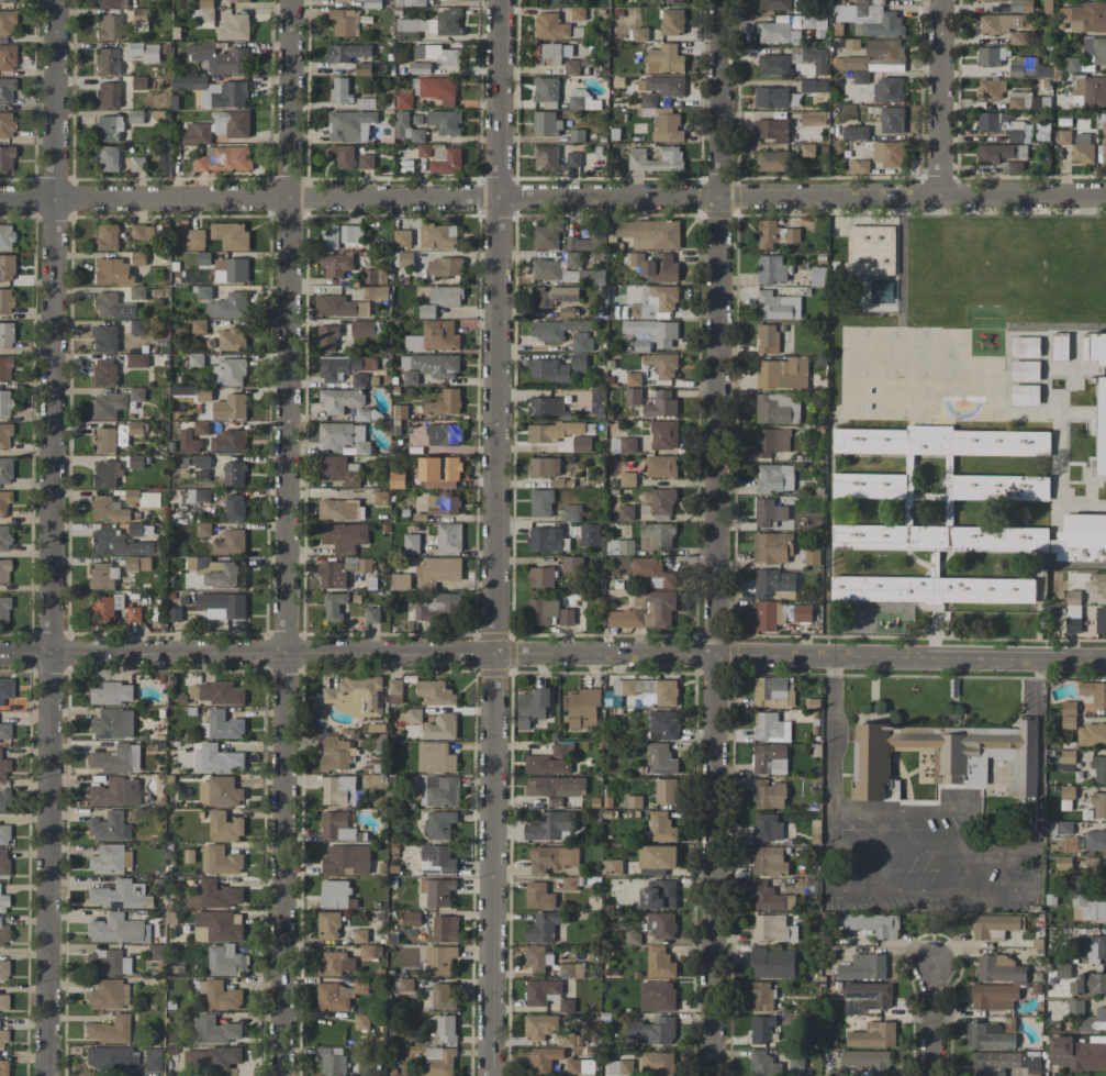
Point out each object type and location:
building: (448, 0)
building: (1004, 0)
building: (5, 1)
building: (238, 1)
building: (675, 1)
building: (862, 1)
building: (112, 2)
building: (372, 3)
building: (775, 4)
building: (1021, 5)
building: (206, 10)
building: (578, 13)
building: (1085, 16)
building: (870, 20)
building: (447, 21)
building: (672, 21)
building: (790, 21)
building: (5, 22)
building: (345, 22)
building: (812, 22)
building: (997, 23)
building: (550, 26)
building: (108, 27)
building: (234, 27)
building: (406, 29)
building: (777, 33)
building: (1016, 37)
building: (853, 44)
building: (1095, 49)
building: (146, 52)
building: (347, 52)
building: (437, 54)
building: (550, 54)
building: (885, 55)
building: (991, 56)
building: (7, 57)
building: (221, 58)
building: (664, 58)
building: (815, 58)
building: (105, 62)
building: (849, 63)
building: (773, 64)
building: (1073, 64)
building: (1023, 66)
building: (571, 67)
building: (362, 68)
building: (420, 68)
building: (666, 85)
building: (812, 86)
building: (438, 89)
building: (546, 89)
building: (889, 89)
building: (991, 89)
building: (340, 90)
building: (5, 91)
building: (214, 91)
building: (1090, 91)
building: (107, 95)
building: (774, 97)
road: (938, 97)
building: (404, 98)
building: (581, 100)
building: (648, 100)
building: (1028, 101)
building: (366, 103)
building: (814, 118)
building: (892, 120)
building: (446, 122)
building: (546, 123)
building: (5, 124)
building: (402, 124)
building: (350, 125)
building: (1005, 125)
building: (108, 127)
building: (219, 127)
building: (668, 127)
building: (771, 130)
building: (1042, 131)
building: (1103, 132)
building: (856, 133)
building: (417, 135)
building: (1064, 136)
building: (1083, 148)
building: (807, 149)
building: (670, 153)
building: (1001, 153)
building: (887, 154)
building: (343, 155)
building: (443, 157)
building: (546, 157)
building: (107, 158)
building: (224, 158)
building: (5, 159)
building: (573, 159)
building: (773, 160)
building: (367, 162)
building: (860, 166)
building: (1015, 168)
road: (552, 196)
building: (143, 232)
building: (649, 233)
building: (350, 234)
building: (547, 234)
building: (774, 234)
building: (231, 235)
building: (438, 235)
building: (4, 237)
building: (105, 237)
building: (195, 237)
building: (402, 237)
building: (331, 239)
building: (586, 242)
building: (871, 251)
building: (404, 258)
building: (572, 259)
building: (336, 265)
building: (656, 266)
building: (5, 267)
building: (446, 267)
building: (546, 269)
building: (772, 269)
building: (231, 270)
building: (112, 271)
building: (375, 276)
building: (591, 276)
building: (818, 276)
building: (137, 292)
building: (204, 292)
building: (376, 292)
building: (446, 296)
building: (554, 296)
building: (4, 301)
building: (228, 306)
building: (112, 307)
building: (339, 307)
building: (778, 307)
building: (567, 312)
building: (199, 325)
building: (137, 326)
building: (362, 329)
building: (557, 329)
building: (5, 334)
building: (651, 334)
building: (434, 336)
building: (104, 339)
building: (232, 339)
building: (328, 339)
building: (767, 339)
building: (581, 341)
building: (1026, 346)
building: (1060, 346)
building: (1094, 347)
building: (136, 359)
building: (579, 363)
building: (432, 365)
building: (662, 365)
building: (339, 367)
building: (4, 368)
building: (549, 370)
building: (1026, 370)
building: (103, 371)
building: (230, 371)
building: (783, 374)
building: (410, 377)
building: (634, 378)
building: (358, 380)
building: (136, 393)
building: (1026, 395)
building: (633, 396)
building: (342, 400)
building: (597, 401)
building: (4, 402)
building: (444, 403)
building: (108, 404)
building: (661, 404)
building: (546, 407)
building: (231, 408)
building: (778, 408)
building: (401, 412)
building: (1102, 426)
building: (135, 428)
building: (201, 428)
building: (552, 432)
building: (444, 434)
building: (664, 434)
building: (4, 436)
building: (343, 437)
building: (103, 440)
building: (189, 442)
building: (228, 442)
building: (771, 442)
building: (582, 443)
building: (624, 445)
building: (909, 461)
building: (136, 462)
building: (544, 466)
building: (661, 466)
building: (201, 467)
building: (4, 469)
building: (342, 470)
building: (105, 473)
building: (234, 473)
building: (440, 473)
building: (775, 478)
building: (398, 479)
building: (627, 479)
building: (870, 486)
building: (194, 496)
building: (143, 498)
building: (381, 498)
building: (3, 501)
building: (662, 501)
building: (541, 502)
building: (444, 503)
building: (235, 508)
building: (107, 509)
building: (338, 509)
building: (571, 513)
building: (626, 513)
building: (769, 513)
building: (136, 529)
building: (203, 529)
building: (591, 535)
building: (657, 535)
building: (344, 536)
building: (449, 536)
building: (3, 537)
road: (51, 537)
road: (290, 537)
road: (495, 537)
road: (719, 537)
building: (940, 537)
building: (1081, 537)
building: (545, 540)
building: (231, 543)
building: (412, 543)
building: (118, 544)
building: (619, 546)
building: (772, 547)
building: (200, 562)
building: (138, 563)
building: (357, 564)
building: (572, 564)
building: (439, 568)
building: (3, 572)
building: (653, 572)
building: (103, 576)
building: (227, 576)
building: (332, 576)
building: (541, 577)
building: (400, 581)
building: (774, 583)
building: (1097, 583)
building: (932, 589)
building: (223, 606)
building: (334, 606)
building: (440, 607)
building: (105, 608)
building: (3, 610)
building: (541, 611)
building: (646, 611)
building: (134, 613)
building: (802, 613)
building: (175, 614)
building: (372, 615)
building: (768, 615)
building: (1073, 615)
building: (567, 617)
building: (1101, 620)
road: (359, 657)
road: (777, 657)
road: (937, 658)
road: (1073, 659)
building: (395, 686)
building: (5, 689)
building: (649, 689)
building: (770, 689)
building: (215, 692)
building: (435, 692)
building: (1094, 692)
building: (111, 694)
building: (356, 696)
building: (533, 706)
building: (1069, 708)
building: (583, 709)
building: (414, 716)
building: (112, 724)
building: (222, 725)
building: (662, 725)
building: (442, 728)
building: (771, 728)
building: (4, 733)
road: (833, 734)
building: (1092, 734)
building: (562, 750)
building: (335, 753)
road: (1040, 754)
building: (945, 756)
building: (436, 757)
building: (116, 758)
building: (217, 759)
building: (661, 759)
building: (770, 759)
building: (1068, 761)
building: (547, 765)
building: (3, 767)
building: (1099, 768)
building: (556, 786)
building: (338, 790)
building: (439, 790)
building: (666, 791)
building: (1068, 791)
building: (114, 792)
building: (220, 792)
building: (769, 794)
building: (4, 800)
building: (1098, 805)
road: (919, 812)
building: (439, 824)
building: (549, 825)
building: (108, 827)
building: (224, 827)
building: (336, 827)
building: (661, 827)
building: (1062, 827)
building: (768, 828)
building: (3, 834)
building: (1095, 840)
road: (901, 848)
road: (1003, 848)
road: (833, 850)
building: (658, 856)
building: (551, 858)
building: (108, 859)
building: (347, 859)
building: (437, 859)
building: (221, 861)
building: (3, 862)
building: (769, 862)
building: (1064, 863)
building: (612, 867)
building: (1077, 881)
building: (569, 884)
road: (950, 890)
building: (435, 892)
building: (335, 894)
building: (118, 895)
building: (658, 895)
building: (213, 896)
building: (538, 896)
building: (770, 898)
building: (2, 903)
building: (1090, 908)
building: (412, 918)
building: (662, 924)
building: (874, 924)
building: (328, 925)
building: (995, 925)
building: (219, 927)
building: (543, 928)
building: (773, 929)
building: (116, 930)
building: (443, 930)
building: (3, 935)
building: (360, 935)
building: (633, 936)
building: (1096, 947)
building: (370, 952)
building: (537, 958)
building: (440, 959)
building: (225, 961)
building: (105, 963)
building: (335, 963)
building: (659, 963)
building: (773, 963)
building: (863, 967)
building: (999, 968)
building: (2, 970)
building: (1063, 970)
building: (570, 972)
building: (1088, 983)
building: (406, 985)
building: (360, 986)
building: (541, 991)
building: (108, 995)
building: (219, 995)
building: (444, 996)
building: (657, 996)
building: (761, 996)
building: (334, 997)
building: (867, 997)
building: (994, 997)
building: (3, 1003)
building: (567, 1005)
building: (1075, 1007)
road: (932, 1019)
building: (361, 1021)
building: (1093, 1021)
building: (539, 1027)
building: (446, 1029)
building: (761, 1029)
building: (108, 1030)
building: (213, 1030)
building: (651, 1031)
building: (873, 1035)
building: (990, 1036)
building: (2, 1039)
building: (567, 1040)
building: (1079, 1053)
building: (111, 1057)
building: (212, 1057)
building: (544, 1058)
building: (152, 1060)
building: (332, 1061)
building: (868, 1061)
building: (439, 1062)
building: (1003, 1062)
building: (658, 1064)
building: (763, 1064)
building: (580, 1066)
building: (2, 1067)
building: (617, 1067)

